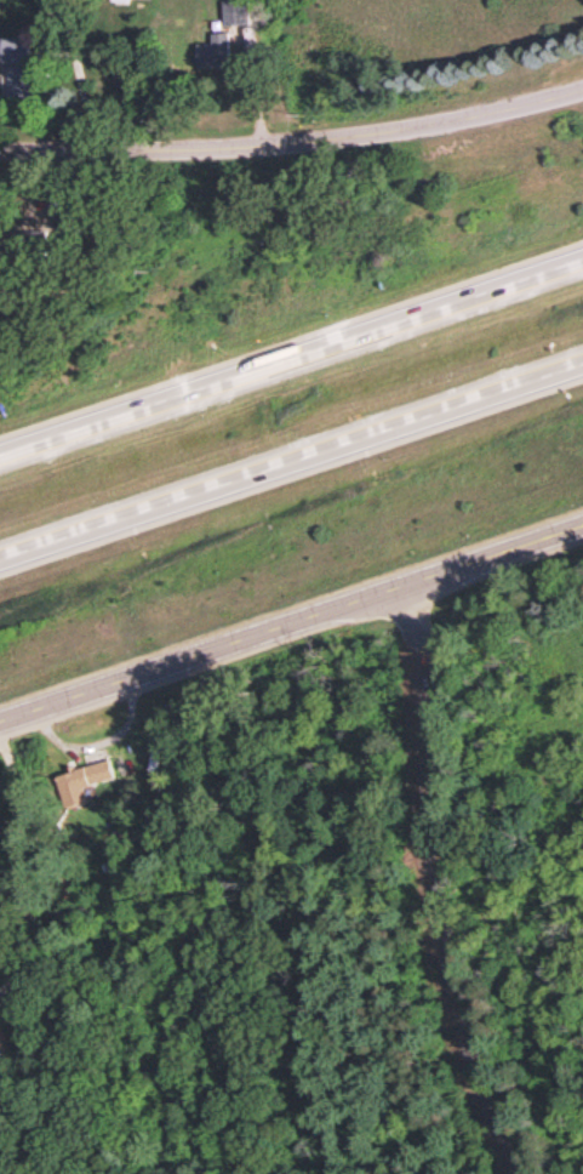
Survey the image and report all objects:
building: (235, 11)
building: (215, 50)
building: (18, 63)
road: (293, 139)
building: (40, 236)
road: (291, 348)
road: (291, 456)
road: (291, 619)
building: (82, 781)
road: (10, 837)
road: (429, 882)
road: (1, 938)
road: (8, 961)
building: (1, 1049)

